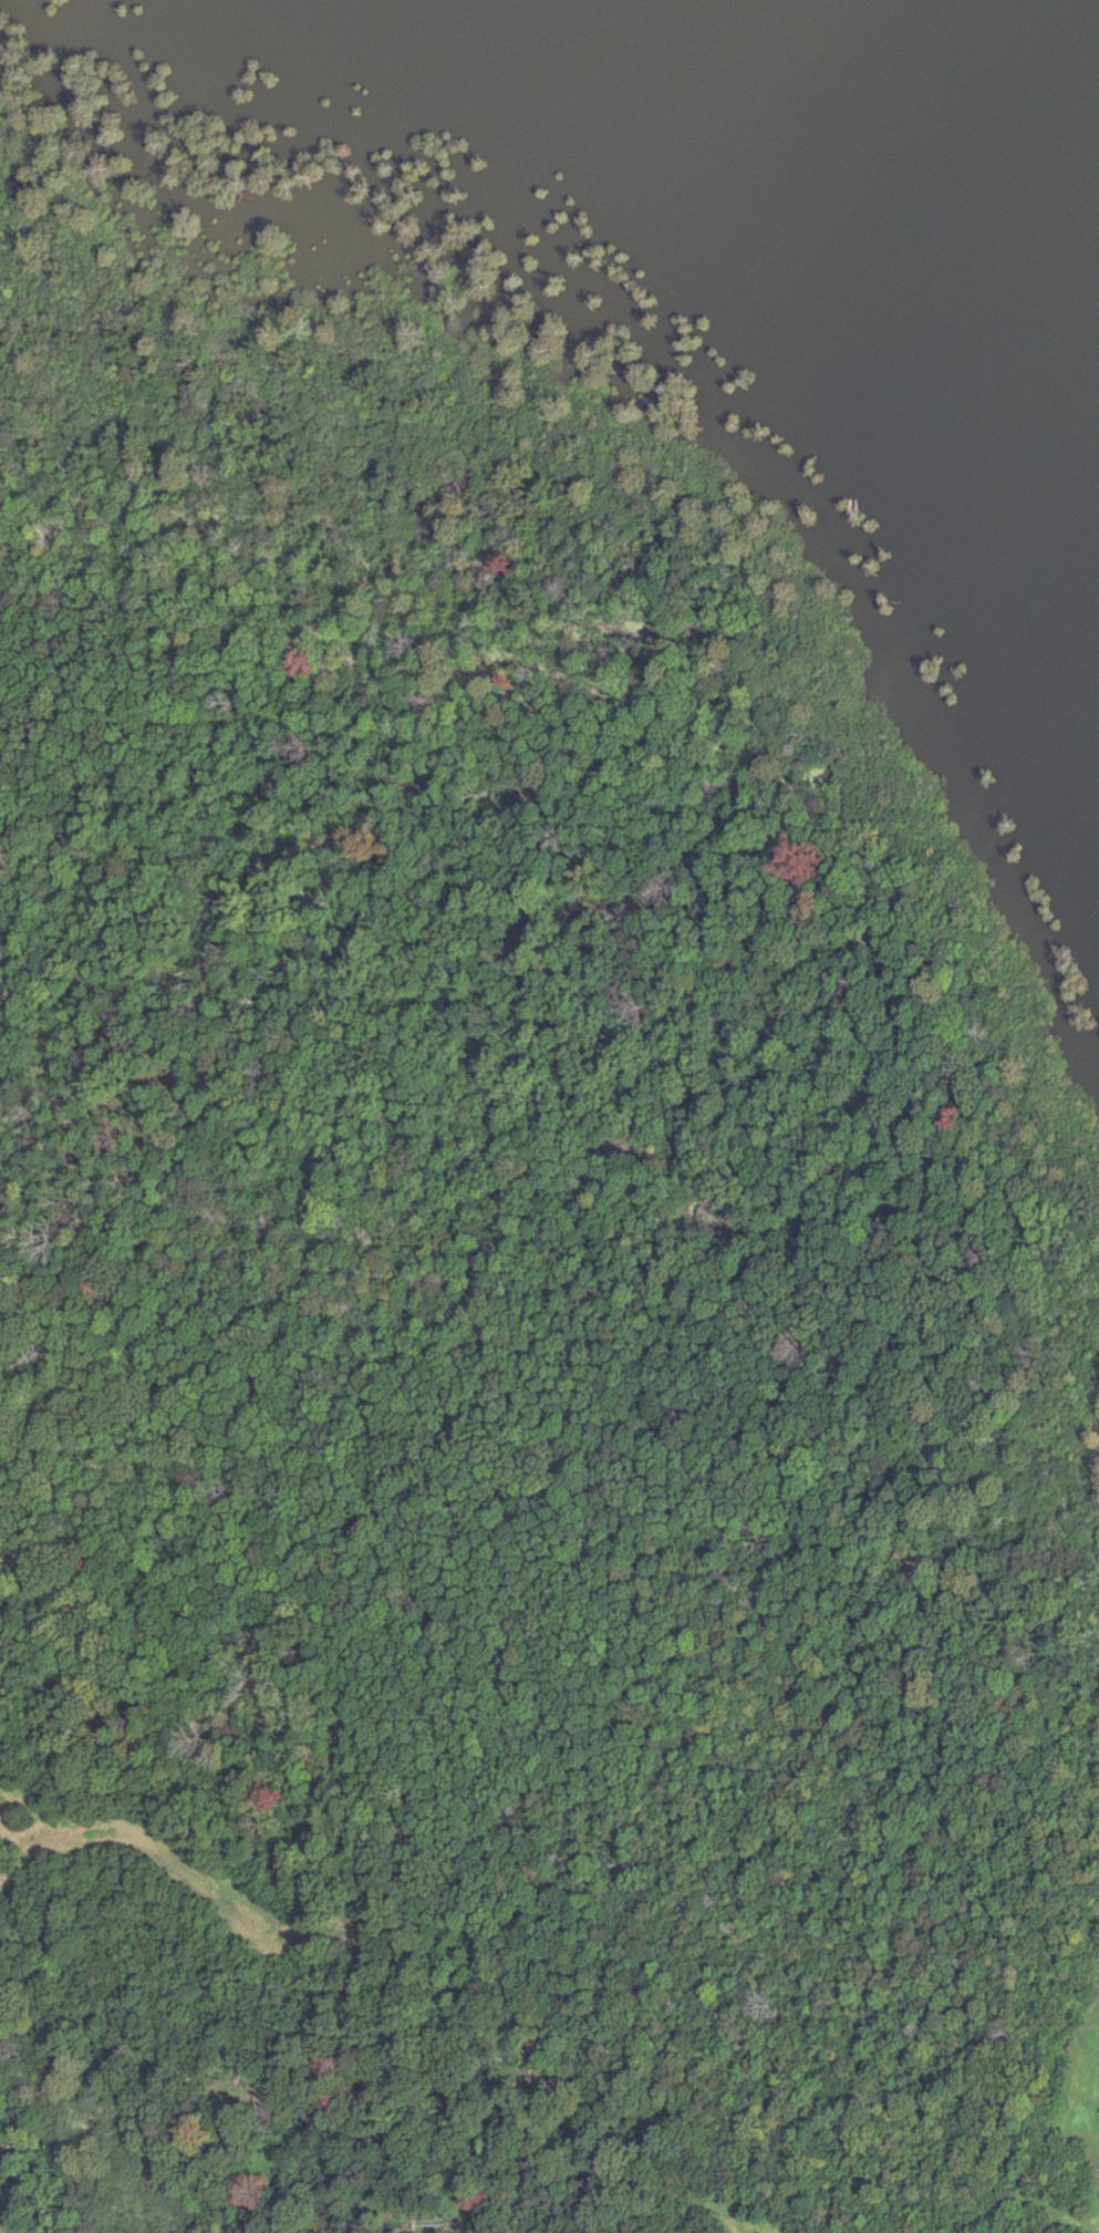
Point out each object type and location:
road: (6, 2222)

